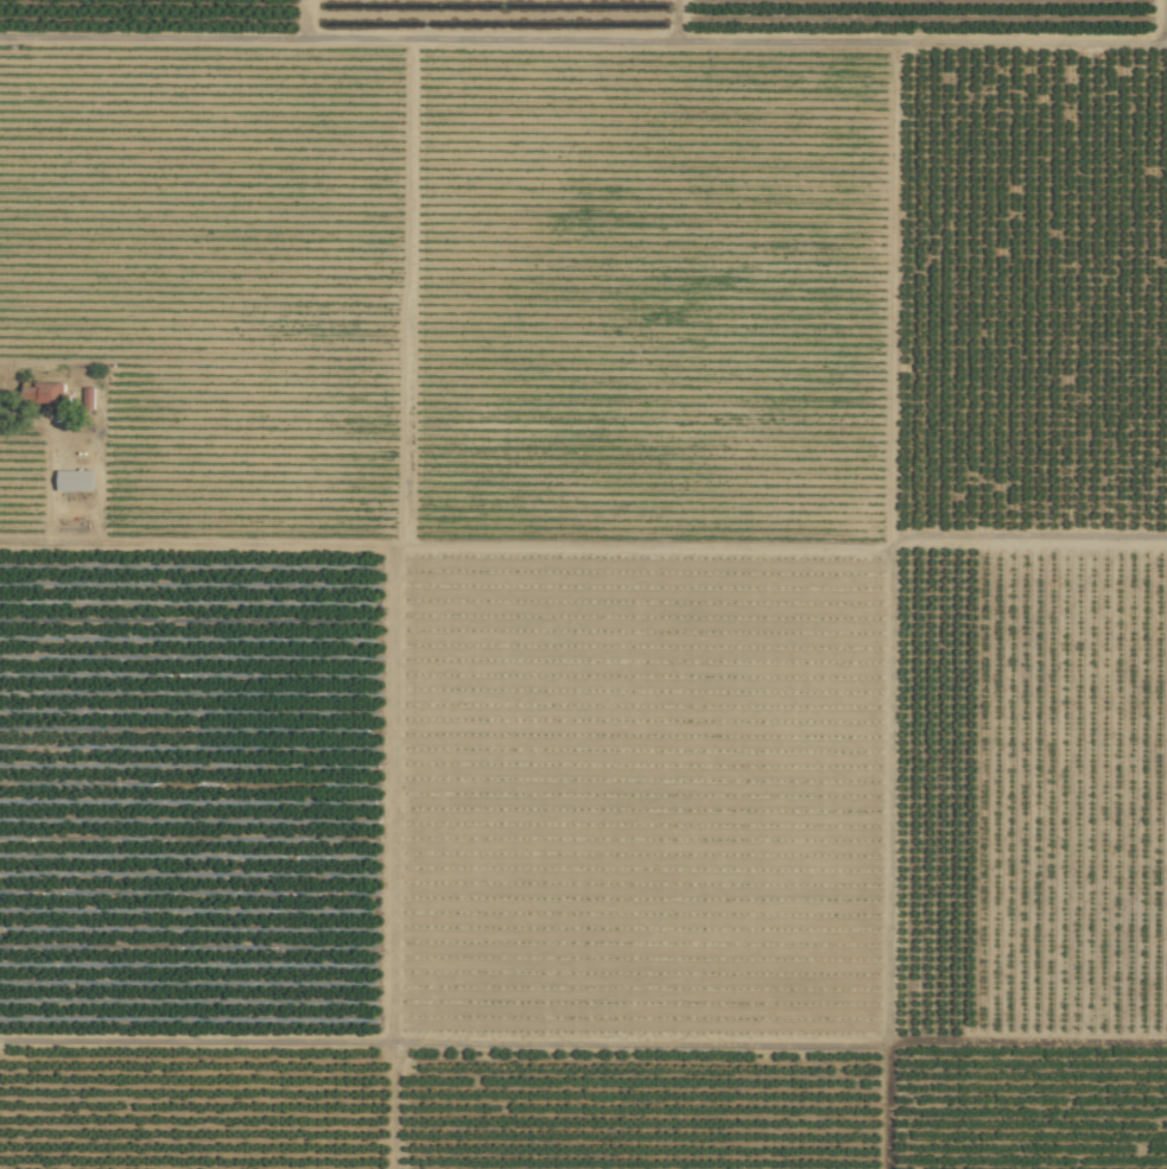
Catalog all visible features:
building: (43, 394)
building: (75, 479)

